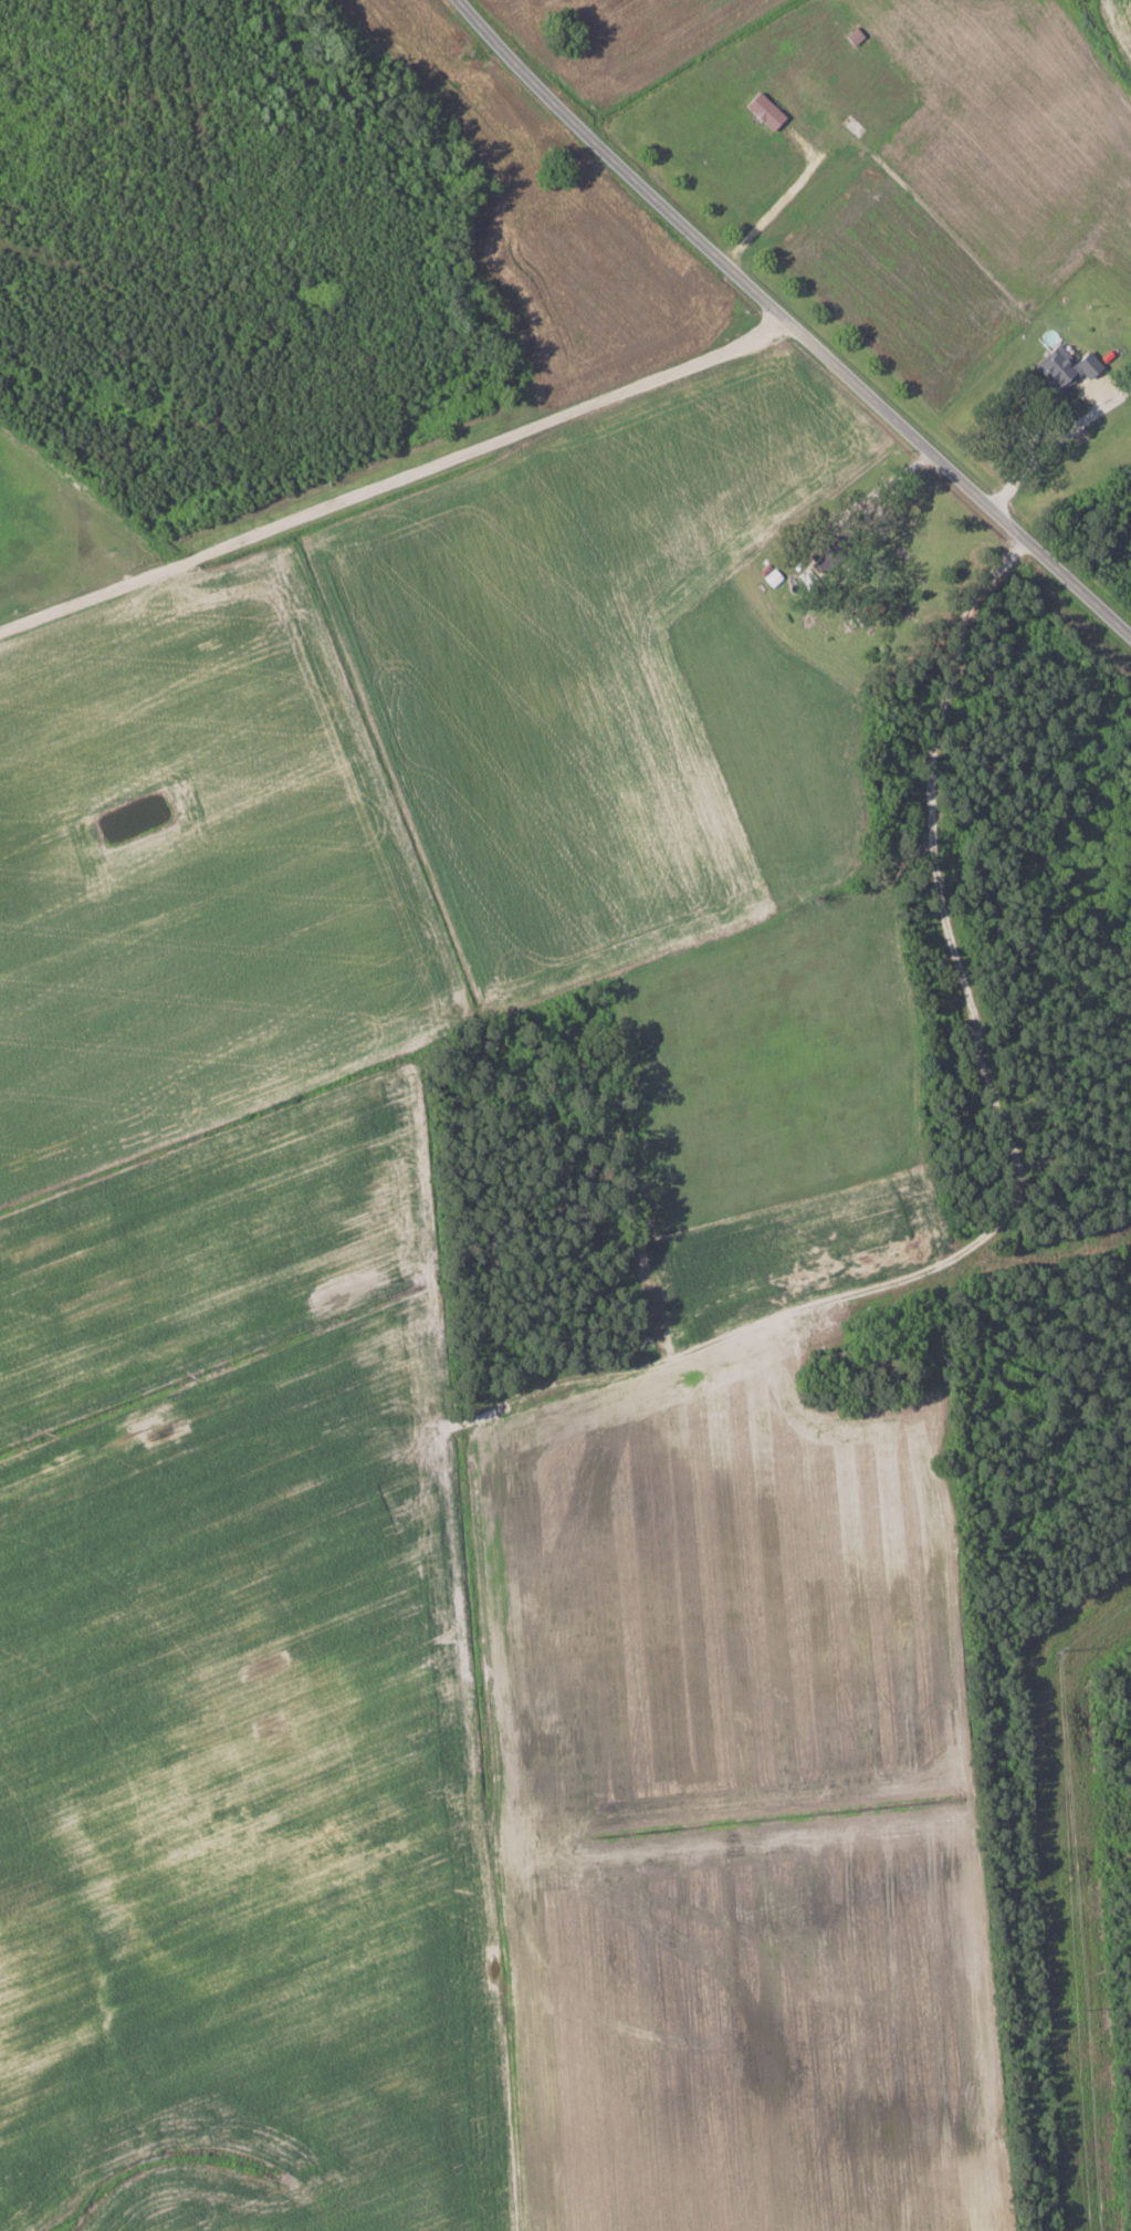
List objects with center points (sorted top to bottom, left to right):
road: (785, 197)
road: (790, 322)
building: (1062, 367)
building: (869, 612)
power tower: (1053, 1651)
power tower: (1078, 2011)

